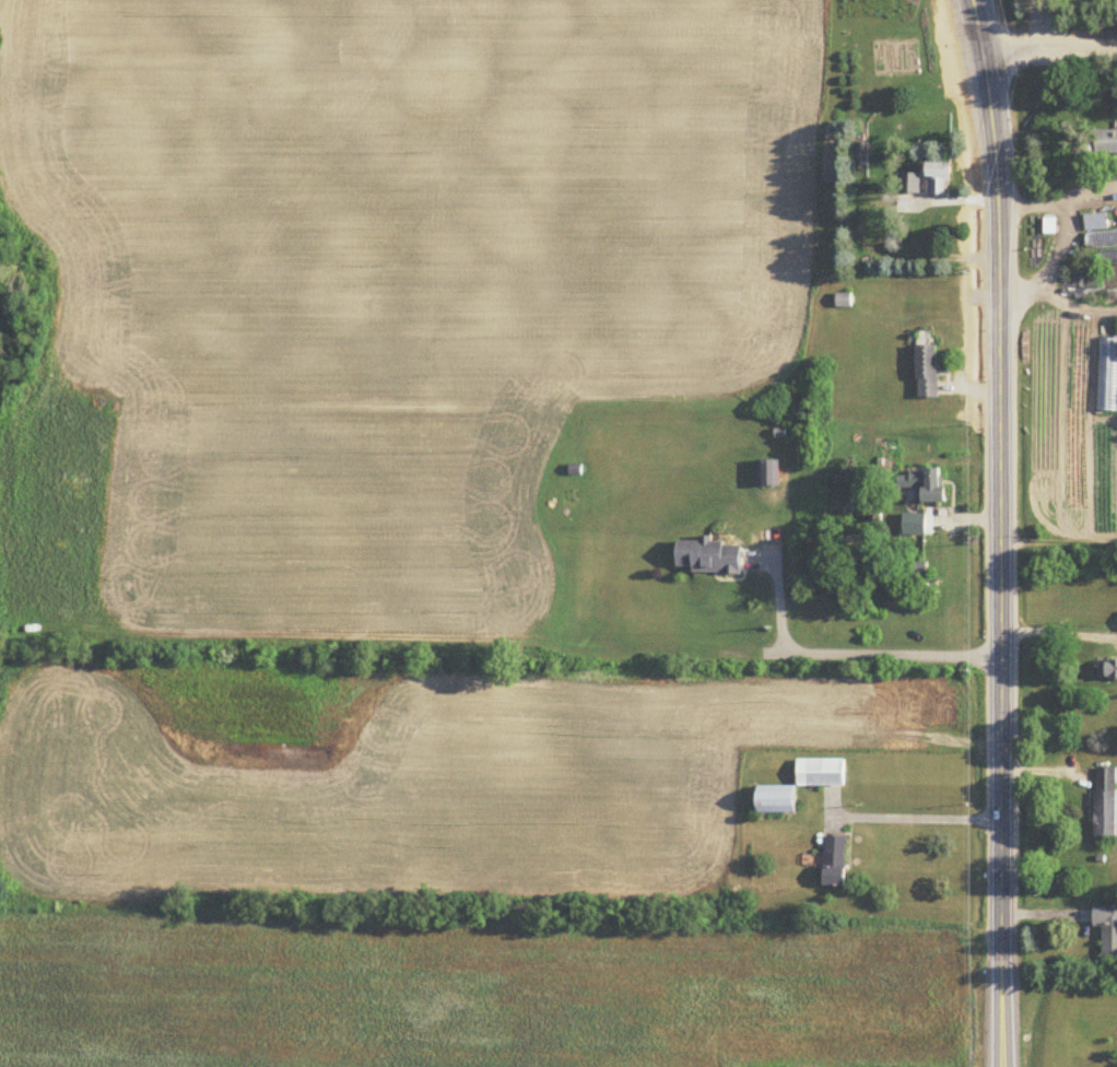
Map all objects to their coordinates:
road: (1042, 26)
road: (1049, 52)
building: (1107, 141)
building: (861, 154)
building: (940, 178)
building: (910, 183)
road: (1087, 194)
building: (1096, 222)
road: (1063, 237)
building: (1102, 239)
building: (1109, 257)
road: (1075, 310)
building: (927, 372)
building: (768, 472)
building: (924, 484)
road: (1000, 532)
building: (708, 556)
road: (1058, 632)
road: (854, 652)
building: (1112, 670)
building: (821, 773)
building: (777, 800)
building: (1106, 801)
road: (922, 818)
building: (836, 861)
building: (1107, 929)

